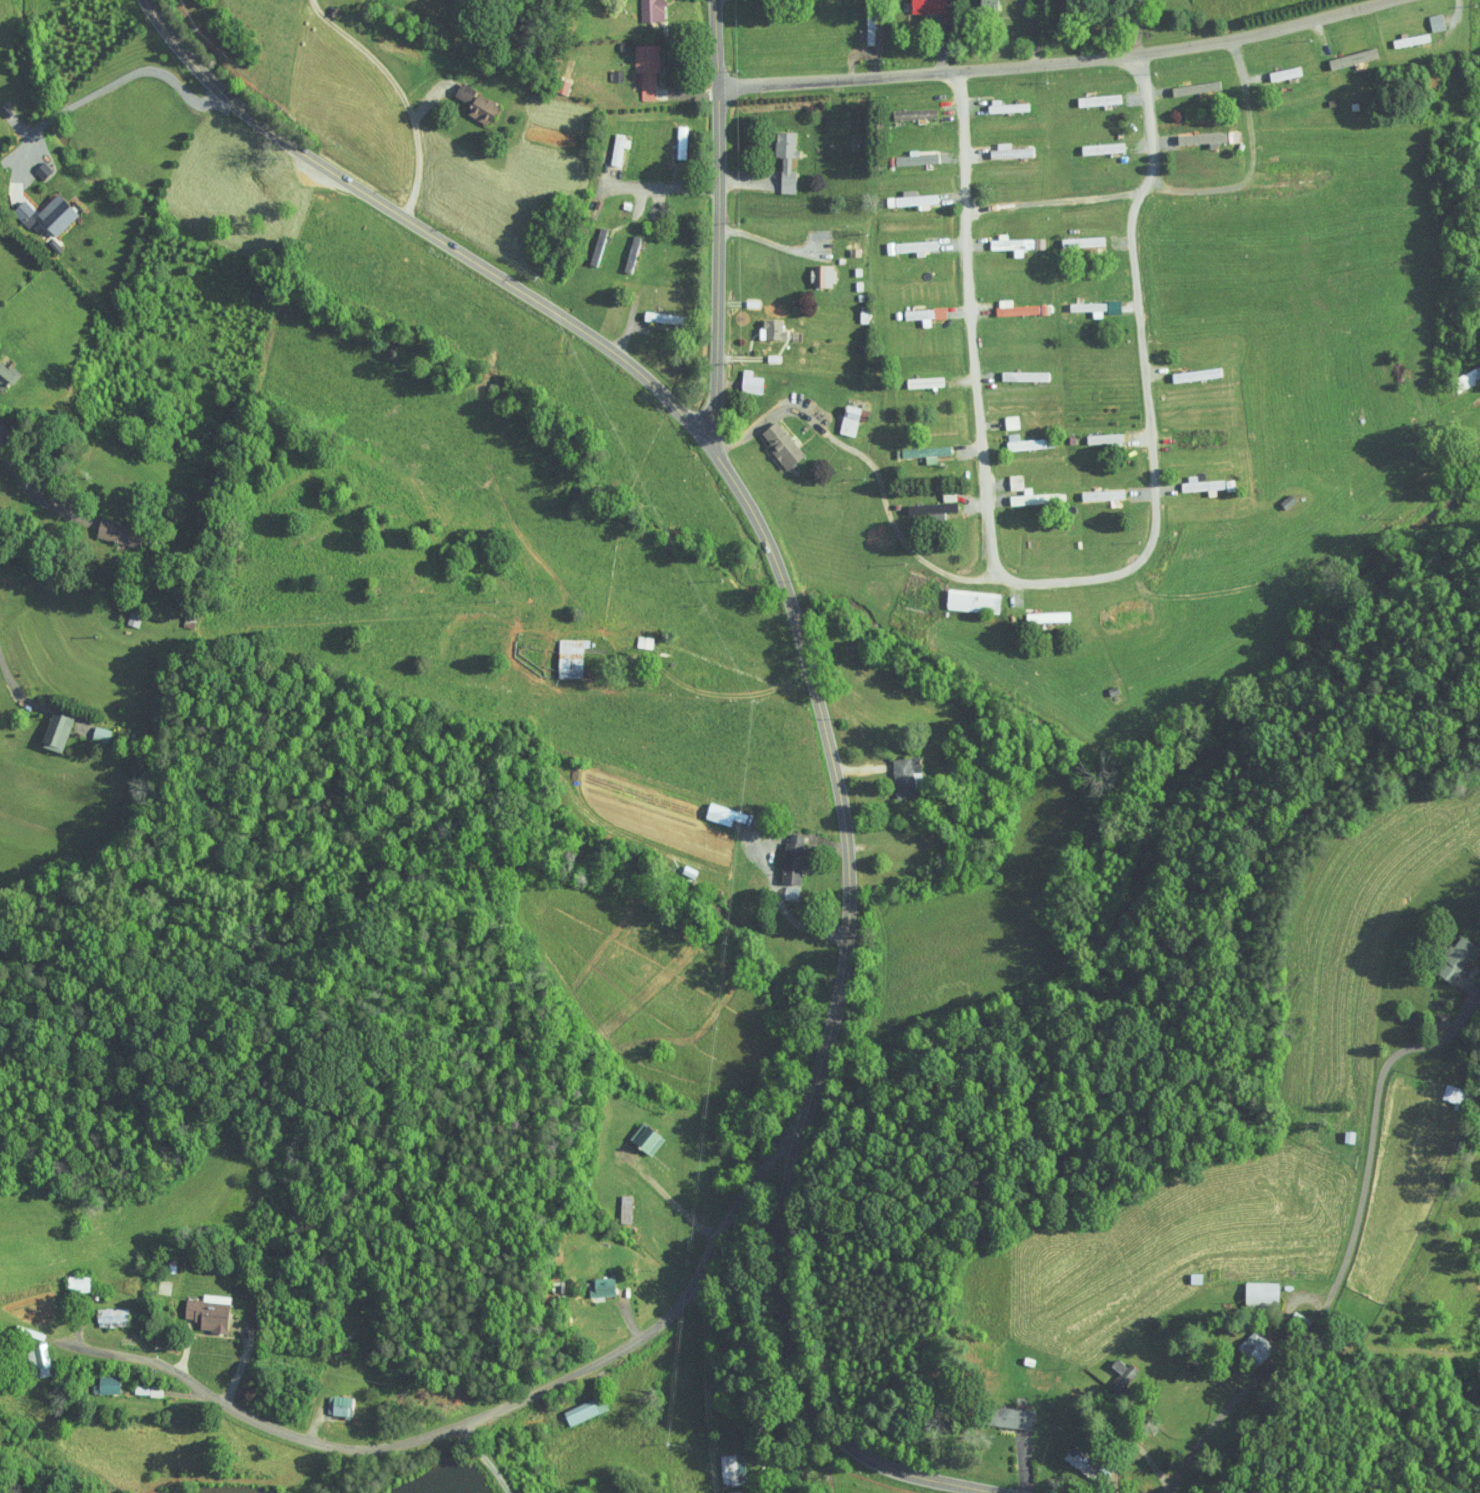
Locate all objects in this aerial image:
building: (982, 2)
building: (918, 3)
building: (643, 7)
building: (1426, 16)
building: (1346, 52)
road: (1413, 57)
road: (1056, 62)
building: (638, 63)
road: (145, 70)
building: (470, 98)
building: (989, 99)
building: (909, 107)
road: (56, 114)
road: (1249, 114)
road: (1149, 126)
road: (33, 134)
building: (1199, 134)
building: (674, 136)
building: (610, 142)
road: (965, 143)
road: (417, 150)
building: (779, 153)
building: (34, 165)
building: (1281, 173)
road: (663, 187)
building: (903, 193)
road: (1107, 199)
building: (53, 206)
road: (720, 220)
building: (830, 227)
building: (1003, 238)
building: (908, 241)
road: (769, 245)
building: (623, 247)
building: (813, 269)
building: (1087, 301)
building: (1010, 303)
building: (917, 309)
building: (657, 311)
building: (762, 323)
building: (4, 369)
building: (743, 376)
building: (843, 414)
building: (1009, 436)
building: (774, 440)
building: (918, 447)
road: (873, 462)
building: (1007, 476)
building: (1196, 480)
road: (26, 487)
building: (1028, 491)
building: (923, 503)
building: (113, 527)
road: (1073, 581)
building: (965, 595)
building: (1040, 611)
building: (125, 613)
building: (636, 635)
building: (563, 652)
road: (810, 667)
road: (24, 687)
road: (720, 693)
building: (50, 725)
building: (92, 728)
building: (898, 772)
building: (716, 808)
building: (785, 852)
building: (1455, 961)
building: (641, 1132)
building: (617, 1203)
road: (1349, 1249)
building: (596, 1280)
building: (1245, 1287)
building: (204, 1305)
building: (1237, 1339)
building: (36, 1349)
building: (1104, 1361)
building: (100, 1378)
road: (712, 1390)
building: (333, 1399)
building: (578, 1403)
building: (1015, 1412)
road: (445, 1429)
road: (485, 1458)
building: (718, 1463)
building: (724, 1488)
building: (677, 1491)
building: (1122, 1491)

